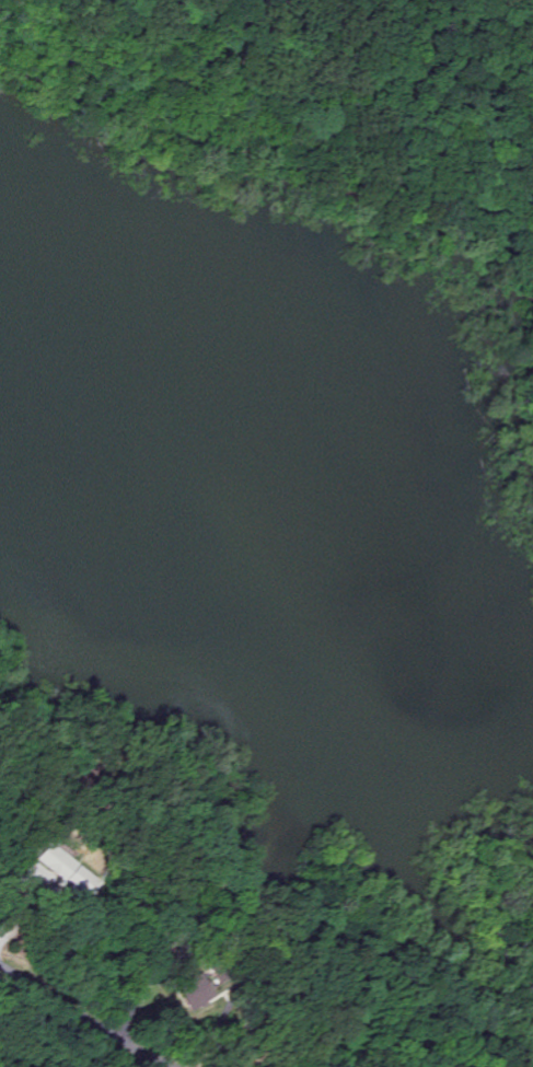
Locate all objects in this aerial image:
building: (197, 994)
road: (85, 1019)

